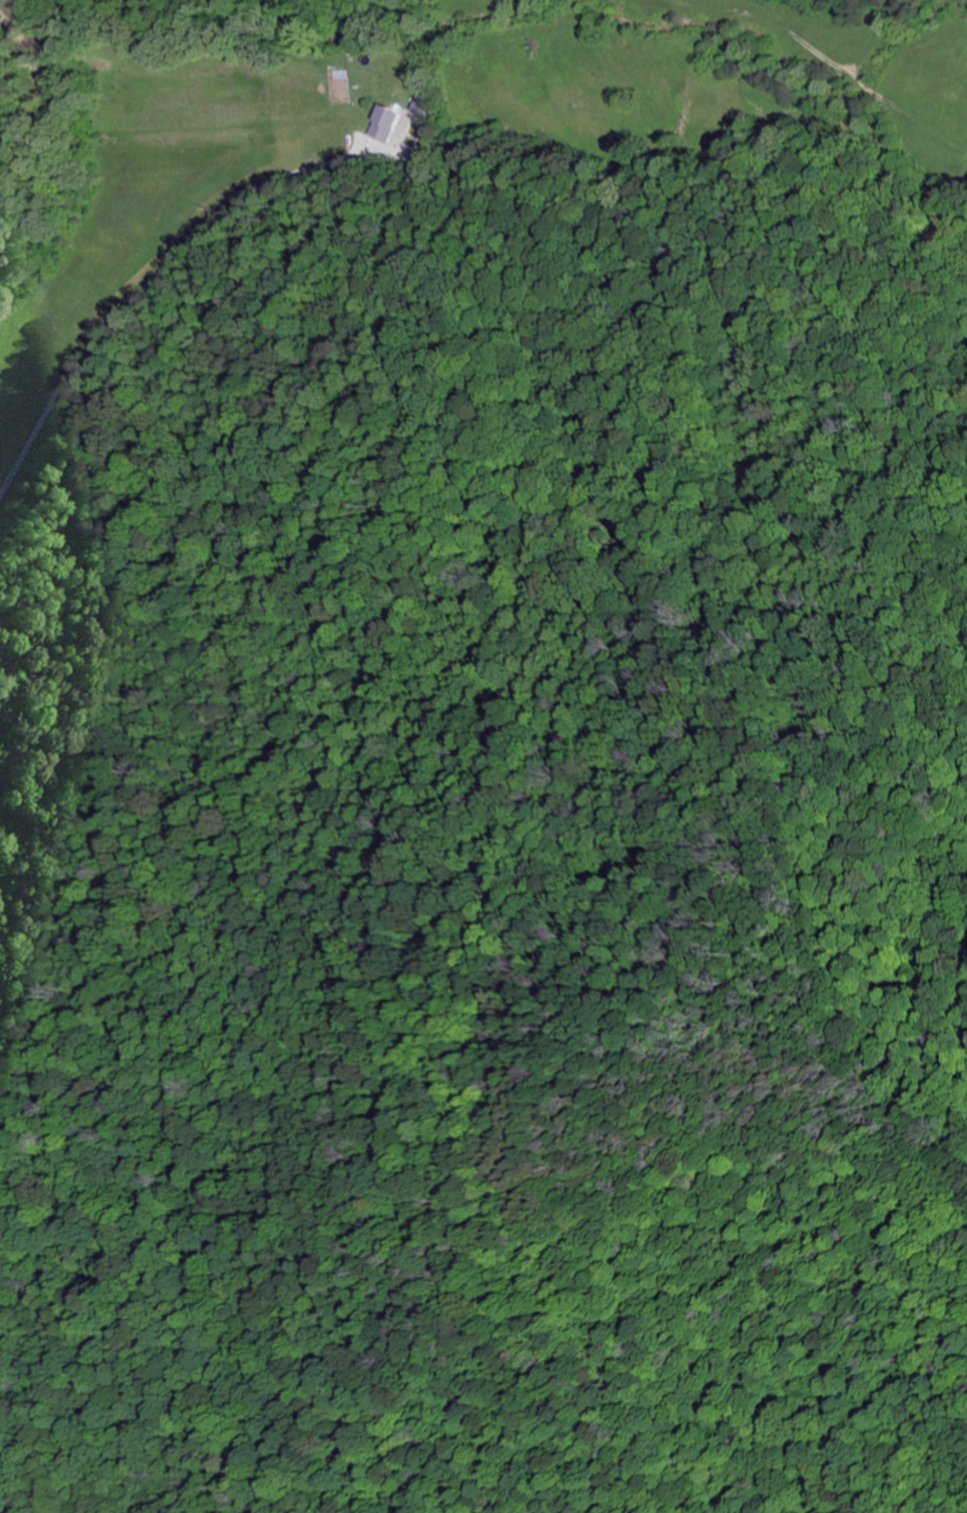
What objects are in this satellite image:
building: (414, 120)
building: (385, 125)
road: (146, 287)

